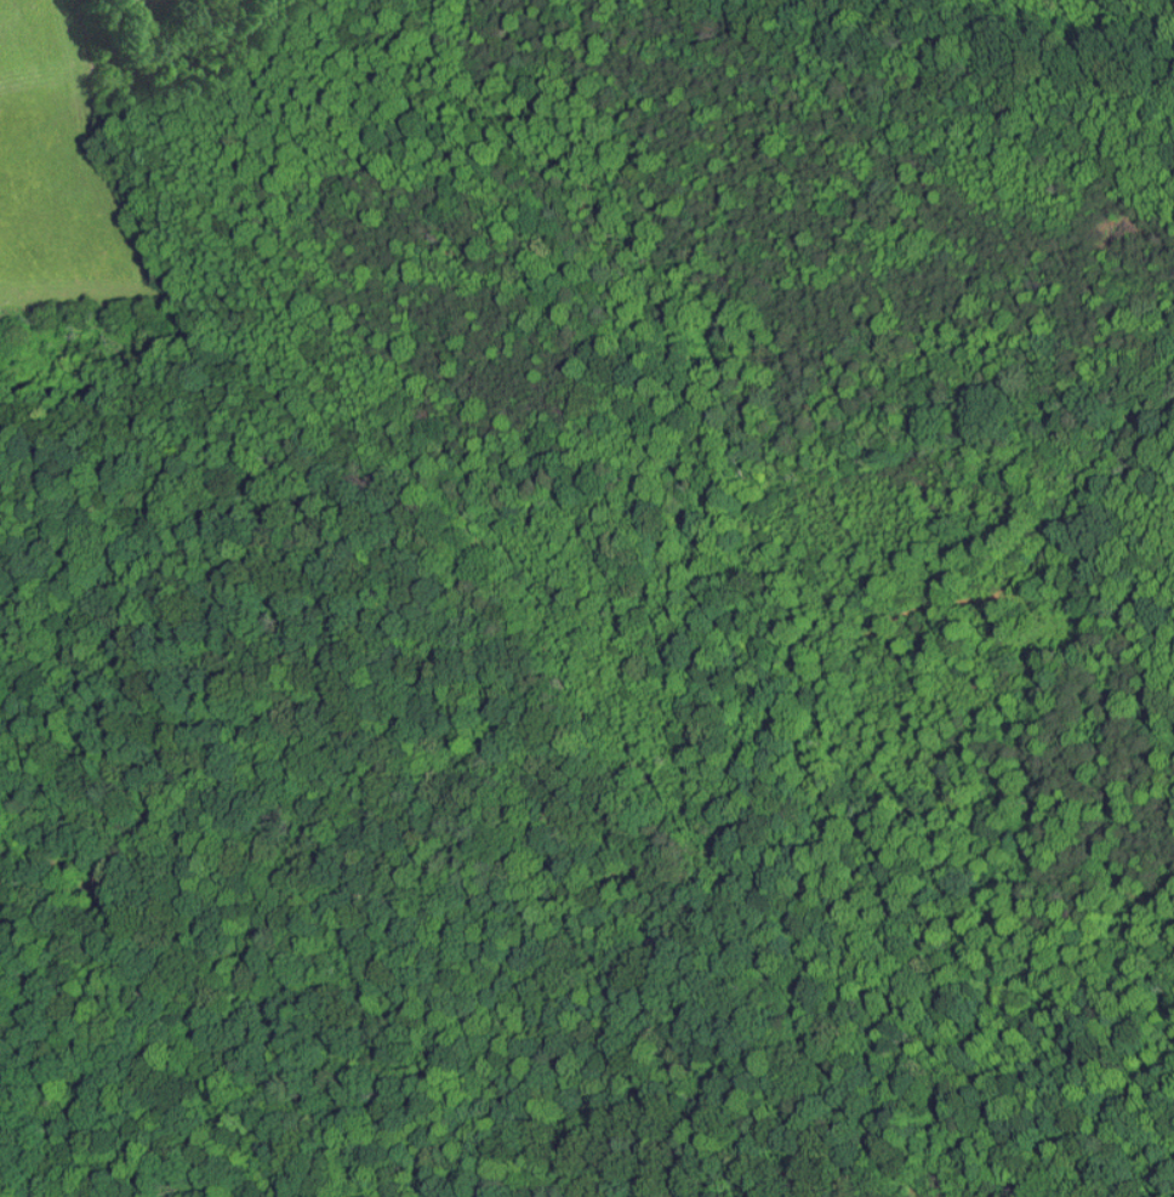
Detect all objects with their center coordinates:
road: (51, 905)

